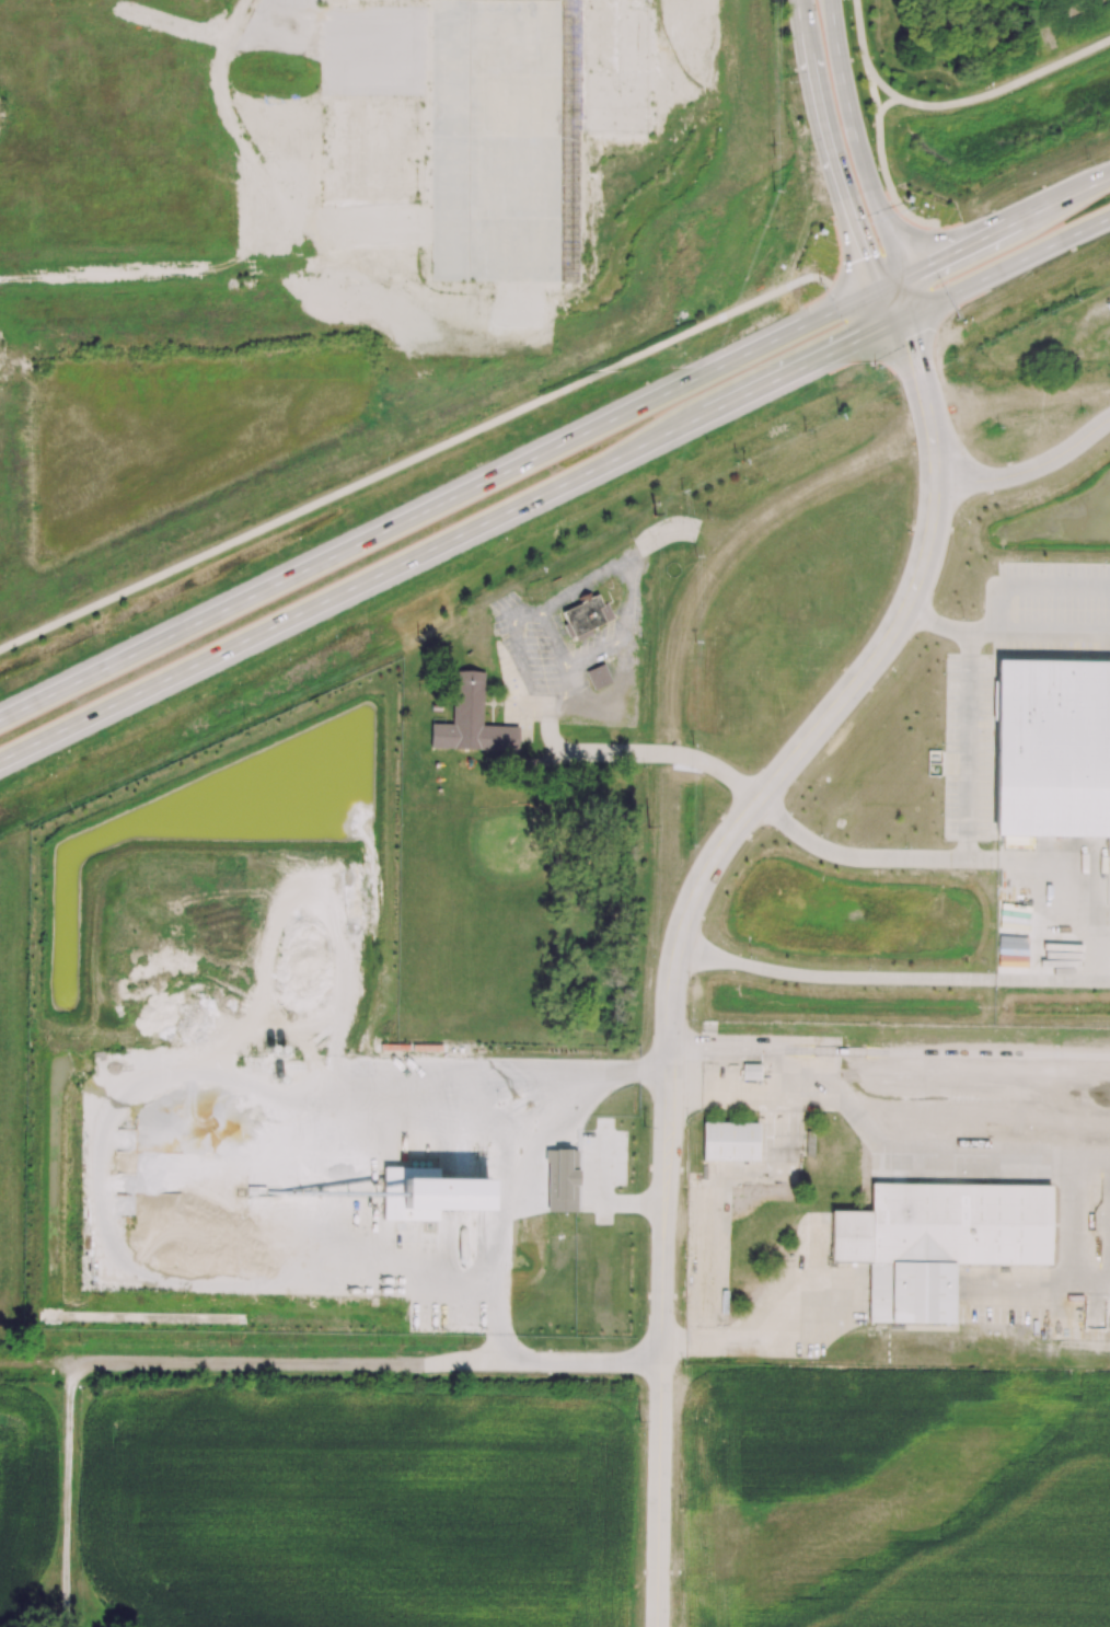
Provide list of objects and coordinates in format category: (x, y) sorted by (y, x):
road: (858, 35)
road: (879, 85)
road: (1005, 89)
road: (872, 92)
road: (846, 100)
road: (886, 106)
road: (829, 168)
road: (888, 186)
power tower: (767, 193)
road: (1067, 200)
road: (1016, 224)
road: (943, 236)
road: (882, 257)
road: (893, 257)
traffic signals: (860, 258)
road: (940, 261)
traffic signals: (932, 266)
road: (1004, 267)
road: (844, 274)
traffic signals: (905, 338)
traffic signals: (854, 343)
road: (917, 374)
road: (414, 460)
road: (1026, 466)
road: (437, 507)
power tower: (655, 515)
road: (449, 540)
building: (586, 616)
road: (1038, 635)
building: (599, 677)
building: (472, 720)
building: (1051, 748)
road: (649, 753)
road: (967, 823)
road: (891, 976)
road: (670, 988)
building: (751, 1072)
building: (730, 1141)
road: (960, 1164)
building: (563, 1180)
building: (428, 1195)
building: (938, 1242)
road: (759, 1335)
road: (373, 1364)
road: (43, 1365)
crop: (22, 1480)
road: (69, 1493)
crop: (359, 1511)

